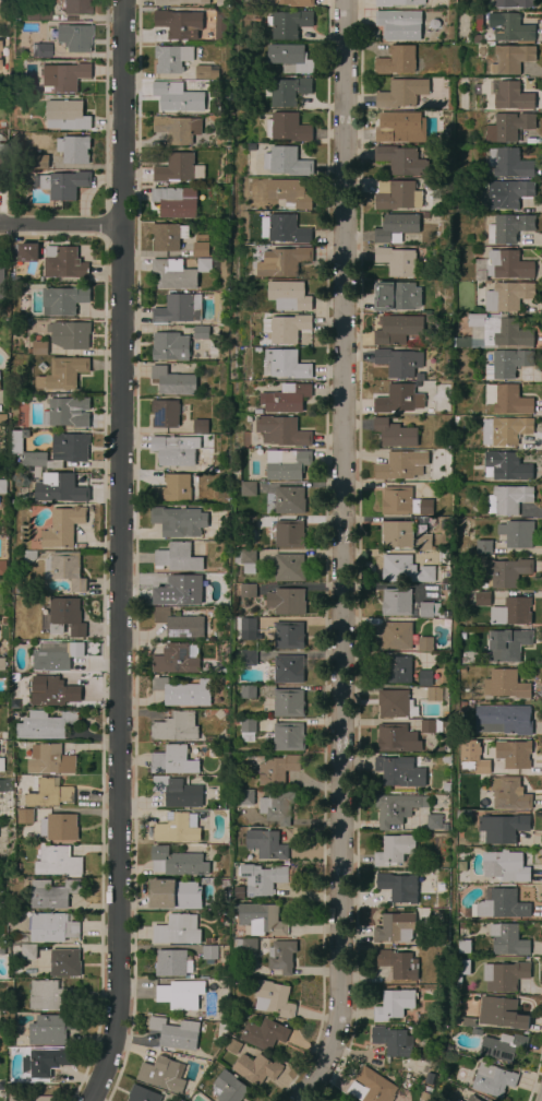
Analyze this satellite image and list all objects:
building: (180, 2)
building: (294, 2)
building: (400, 3)
building: (511, 3)
building: (76, 7)
building: (35, 13)
building: (179, 23)
building: (289, 24)
building: (433, 24)
building: (399, 25)
building: (511, 27)
building: (74, 37)
building: (4, 39)
building: (39, 49)
building: (4, 56)
building: (290, 58)
building: (511, 58)
building: (171, 59)
building: (396, 61)
building: (206, 72)
building: (62, 76)
building: (288, 91)
building: (400, 93)
building: (173, 96)
building: (510, 96)
building: (33, 98)
building: (65, 115)
building: (509, 127)
building: (287, 128)
building: (401, 128)
building: (177, 129)
building: (73, 149)
building: (400, 161)
building: (39, 162)
building: (287, 162)
building: (509, 163)
building: (177, 168)
building: (1, 174)
building: (62, 183)
building: (290, 193)
building: (508, 193)
building: (396, 196)
building: (174, 201)
building: (467, 204)
building: (425, 215)
road: (60, 223)
building: (396, 227)
building: (509, 228)
building: (287, 229)
building: (167, 236)
building: (200, 238)
building: (24, 249)
building: (200, 251)
building: (282, 261)
building: (396, 261)
building: (65, 264)
building: (206, 265)
building: (504, 265)
building: (172, 274)
building: (1, 281)
building: (288, 296)
building: (396, 296)
building: (508, 296)
building: (63, 300)
building: (215, 308)
building: (178, 309)
building: (425, 318)
building: (286, 328)
building: (396, 329)
building: (200, 332)
building: (498, 332)
building: (70, 334)
building: (413, 341)
building: (260, 342)
building: (169, 346)
building: (39, 347)
building: (212, 348)
building: (398, 363)
building: (285, 364)
building: (508, 364)
building: (63, 374)
building: (419, 378)
building: (172, 381)
building: (286, 399)
building: (398, 400)
building: (508, 400)
building: (67, 412)
building: (258, 412)
building: (165, 414)
building: (249, 419)
building: (2, 421)
building: (200, 426)
building: (508, 430)
building: (281, 431)
building: (394, 434)
building: (19, 440)
building: (71, 448)
building: (173, 450)
building: (34, 460)
building: (287, 464)
building: (400, 465)
building: (506, 466)
building: (38, 473)
building: (3, 487)
building: (60, 488)
building: (171, 489)
building: (248, 489)
building: (508, 499)
building: (289, 500)
building: (405, 501)
building: (178, 521)
building: (250, 521)
building: (443, 525)
building: (62, 526)
building: (516, 533)
building: (289, 534)
building: (397, 534)
building: (248, 536)
building: (423, 542)
building: (483, 546)
road: (118, 553)
road: (339, 555)
building: (28, 557)
building: (178, 558)
building: (245, 559)
building: (289, 567)
building: (2, 568)
building: (64, 569)
building: (405, 570)
building: (506, 572)
building: (177, 589)
building: (248, 591)
building: (471, 599)
building: (483, 600)
building: (286, 601)
building: (396, 602)
building: (429, 609)
building: (513, 612)
building: (65, 617)
building: (180, 624)
building: (245, 627)
building: (288, 635)
building: (396, 636)
building: (462, 636)
building: (424, 644)
building: (506, 646)
building: (59, 656)
building: (177, 659)
building: (248, 659)
building: (1, 664)
building: (285, 670)
building: (396, 670)
building: (224, 671)
building: (429, 678)
building: (504, 684)
building: (52, 690)
building: (183, 691)
building: (248, 691)
building: (433, 694)
building: (288, 702)
building: (396, 705)
building: (463, 706)
building: (503, 719)
building: (446, 723)
building: (45, 725)
building: (174, 726)
building: (430, 727)
building: (246, 730)
building: (288, 736)
building: (207, 738)
building: (397, 738)
building: (513, 754)
building: (445, 758)
building: (50, 760)
building: (172, 760)
building: (1, 765)
building: (482, 767)
building: (276, 769)
building: (399, 771)
building: (3, 786)
building: (446, 786)
building: (177, 792)
building: (49, 793)
building: (508, 794)
building: (245, 797)
building: (276, 807)
building: (394, 808)
building: (206, 813)
building: (462, 816)
building: (25, 817)
building: (433, 821)
building: (59, 827)
building: (444, 827)
building: (178, 828)
building: (503, 828)
building: (266, 844)
building: (394, 850)
building: (57, 862)
building: (177, 862)
building: (504, 866)
building: (0, 867)
building: (262, 879)
building: (397, 887)
building: (51, 893)
building: (174, 895)
building: (501, 904)
building: (468, 912)
building: (260, 919)
building: (52, 927)
building: (395, 927)
building: (177, 931)
building: (20, 938)
building: (507, 939)
building: (244, 946)
building: (463, 947)
building: (1, 948)
building: (27, 952)
building: (208, 954)
building: (281, 957)
building: (64, 962)
building: (171, 963)
building: (397, 963)
building: (463, 967)
building: (504, 976)
building: (458, 980)
building: (180, 994)
building: (51, 996)
building: (273, 998)
building: (394, 1005)
building: (501, 1013)
building: (467, 1021)
building: (50, 1029)
building: (0, 1031)
building: (176, 1033)
building: (264, 1034)
building: (393, 1041)
building: (233, 1046)
building: (503, 1046)
building: (45, 1062)
building: (256, 1068)
building: (162, 1074)
building: (433, 1074)
building: (425, 1079)
building: (492, 1080)
building: (229, 1087)
building: (372, 1087)
building: (425, 1093)
building: (142, 1094)
building: (31, 1098)
building: (472, 1098)
building: (457, 1100)

